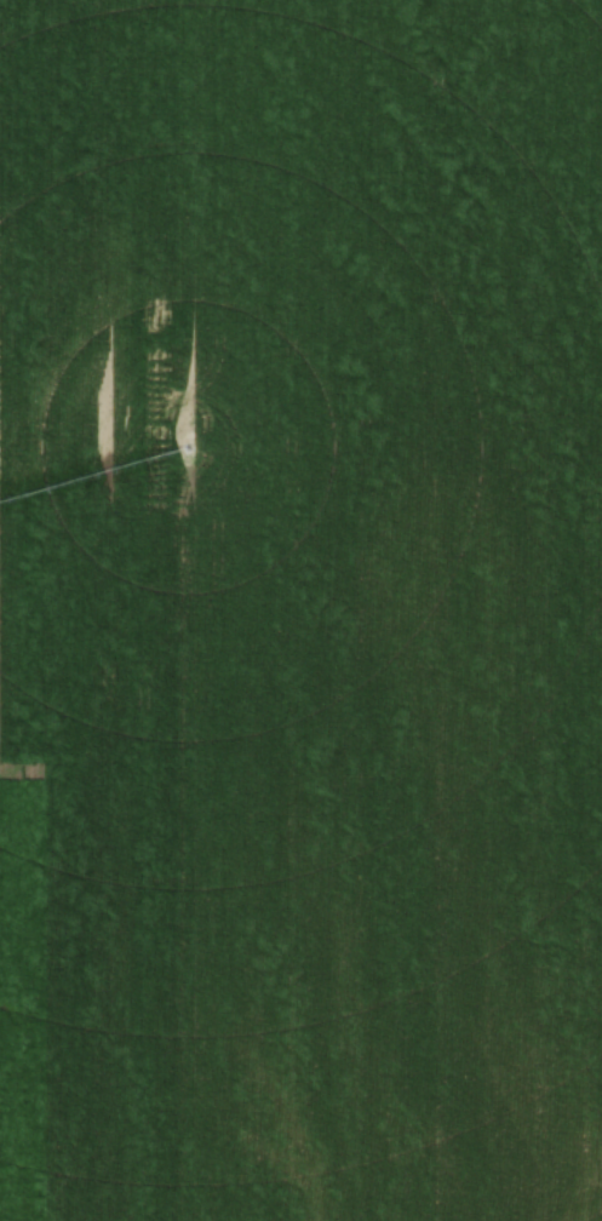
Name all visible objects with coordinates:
crop: (300, 610)

